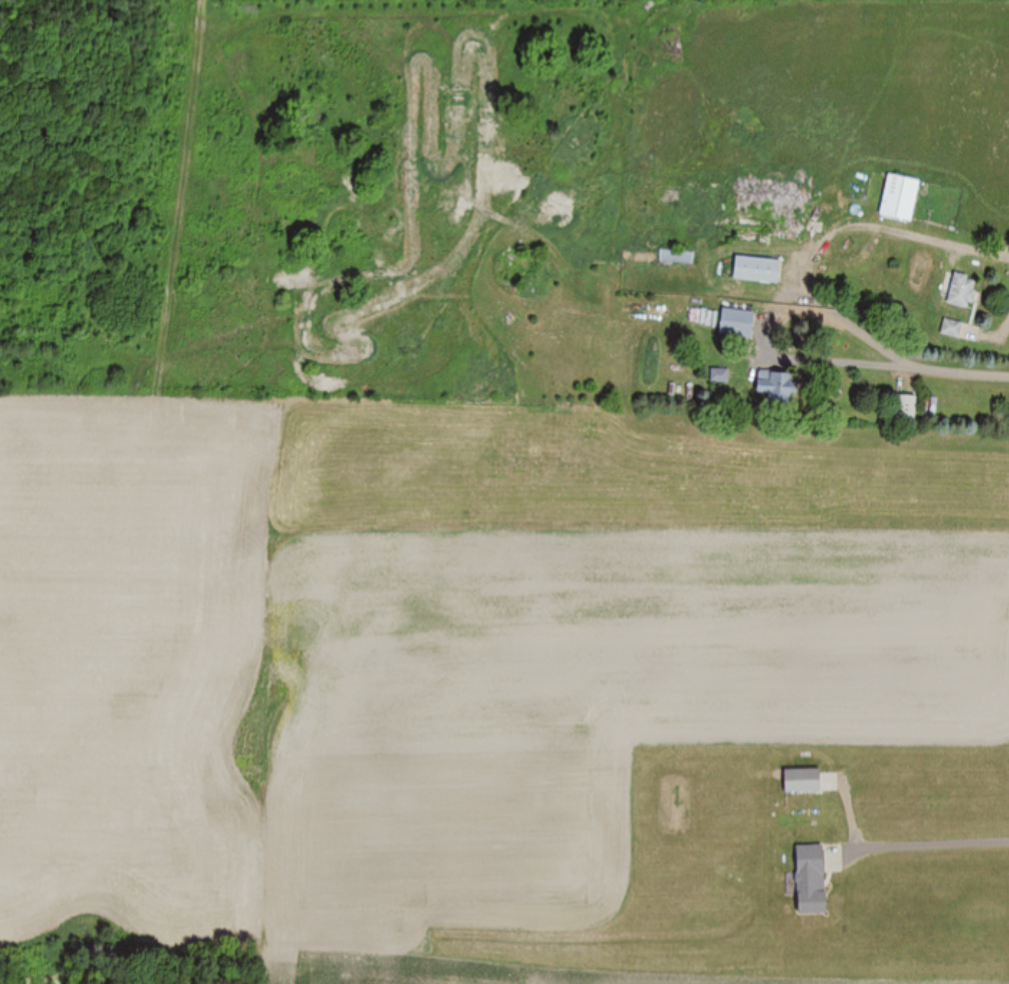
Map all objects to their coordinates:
building: (899, 199)
road: (728, 200)
building: (768, 213)
building: (677, 258)
road: (811, 259)
building: (756, 270)
building: (962, 291)
building: (736, 322)
building: (951, 328)
road: (968, 335)
building: (720, 375)
building: (774, 387)
building: (801, 782)
road: (919, 843)
building: (809, 880)

